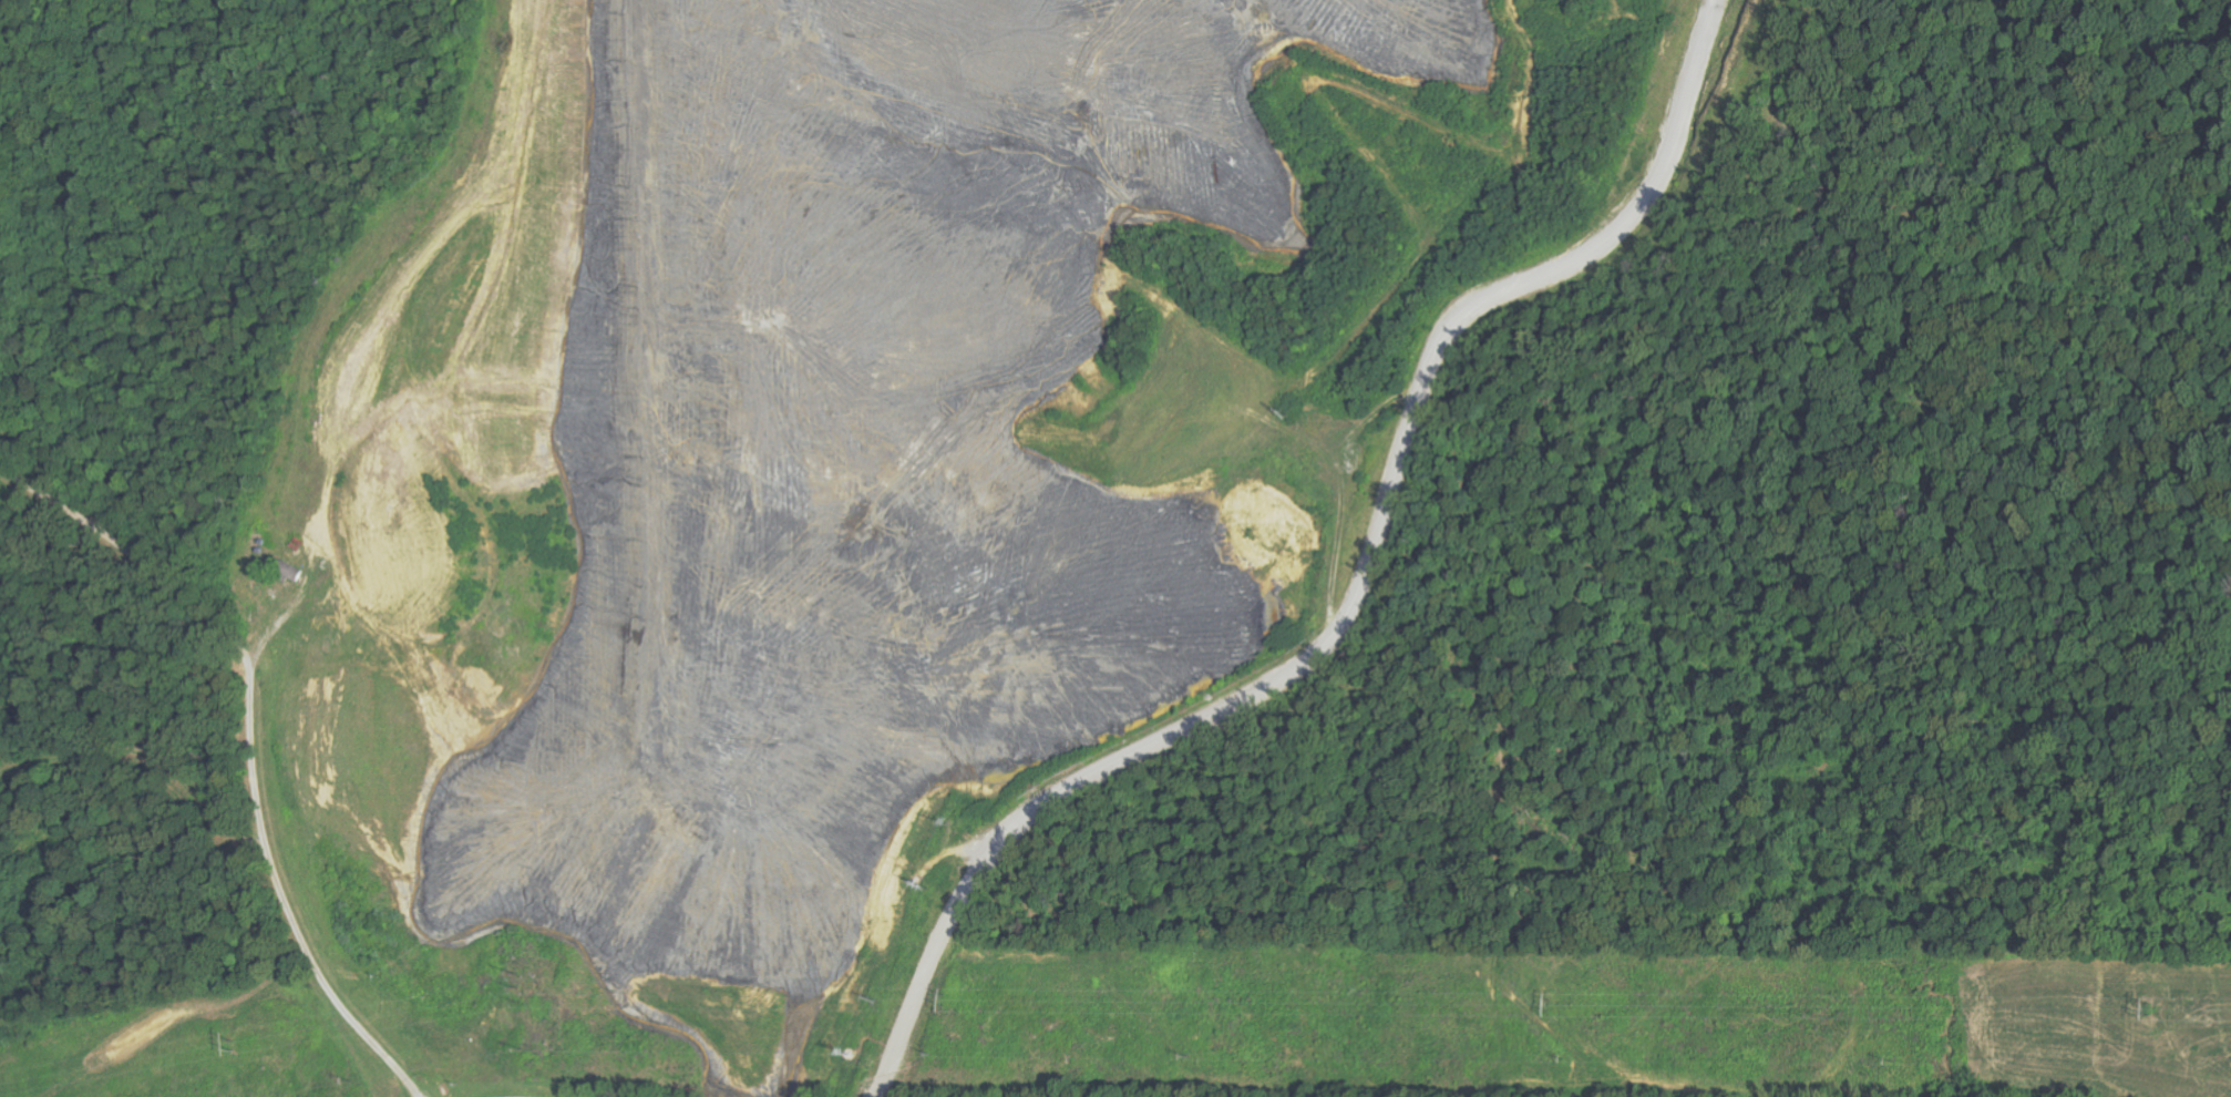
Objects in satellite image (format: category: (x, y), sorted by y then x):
road: (1366, 575)
road: (253, 741)
power tower: (524, 992)
power tower: (946, 993)
power tower: (2148, 1002)
power tower: (1551, 1003)
power tower: (233, 1043)

